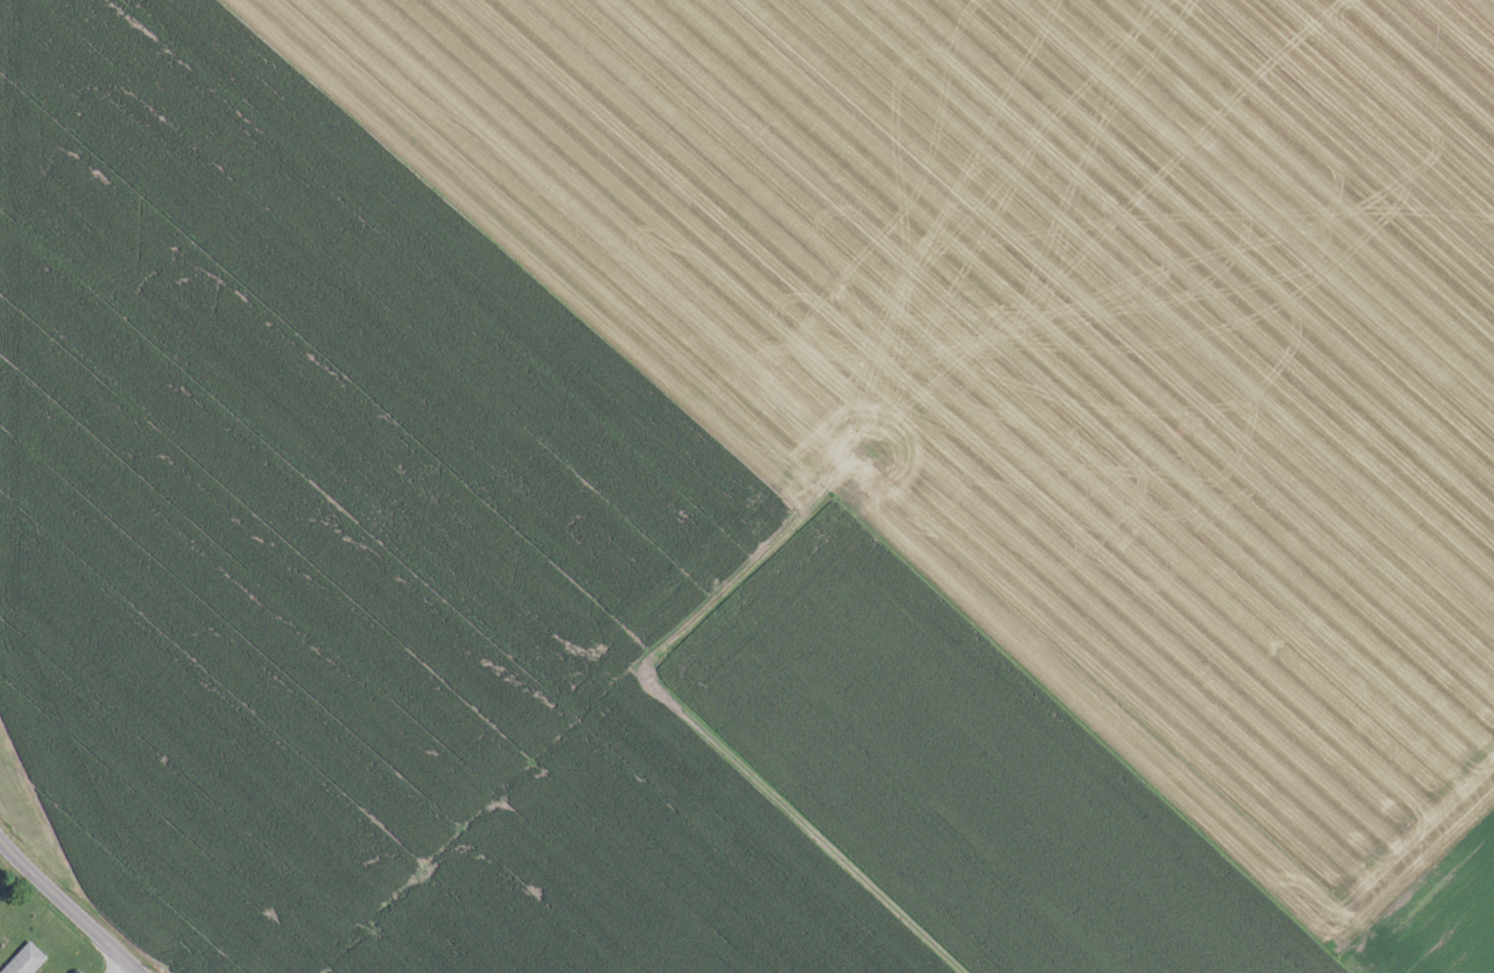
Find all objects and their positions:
road: (63, 904)
building: (22, 960)
road: (127, 971)
road: (132, 971)

